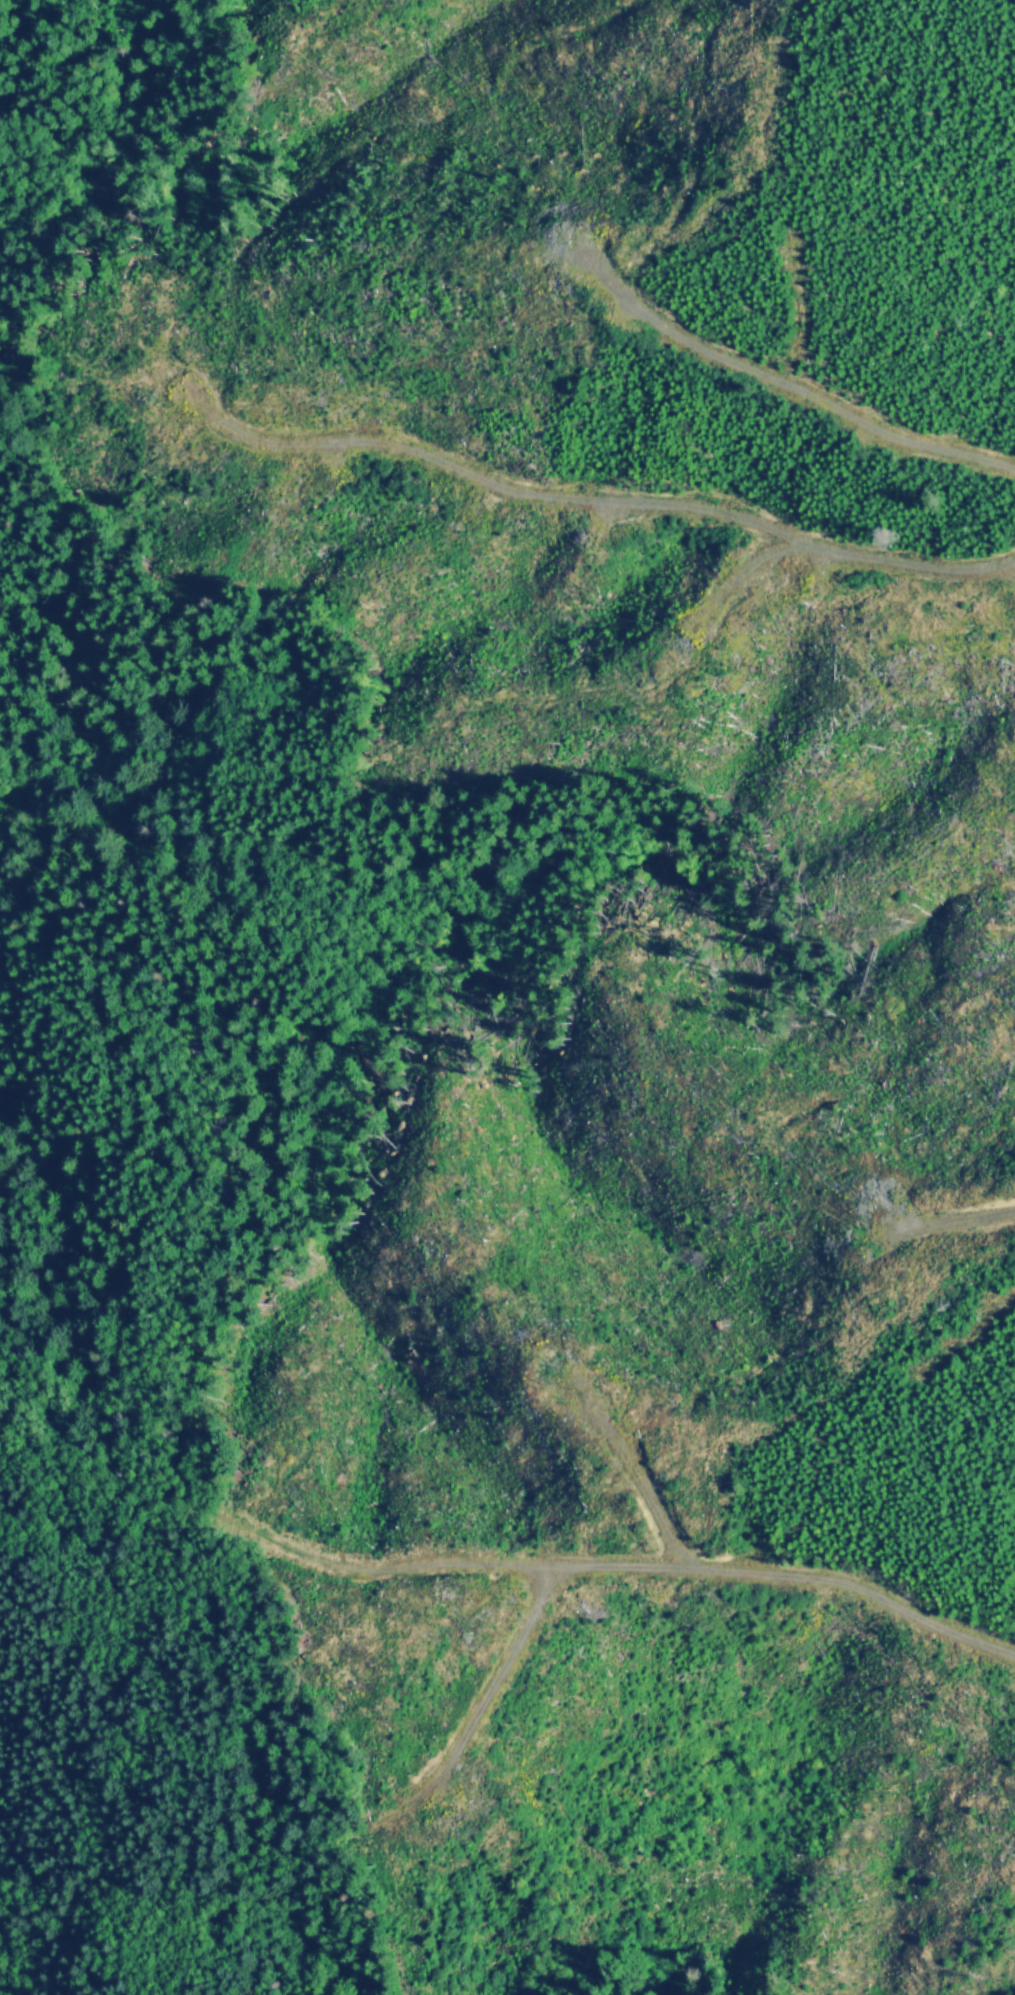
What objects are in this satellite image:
road: (485, 1542)

